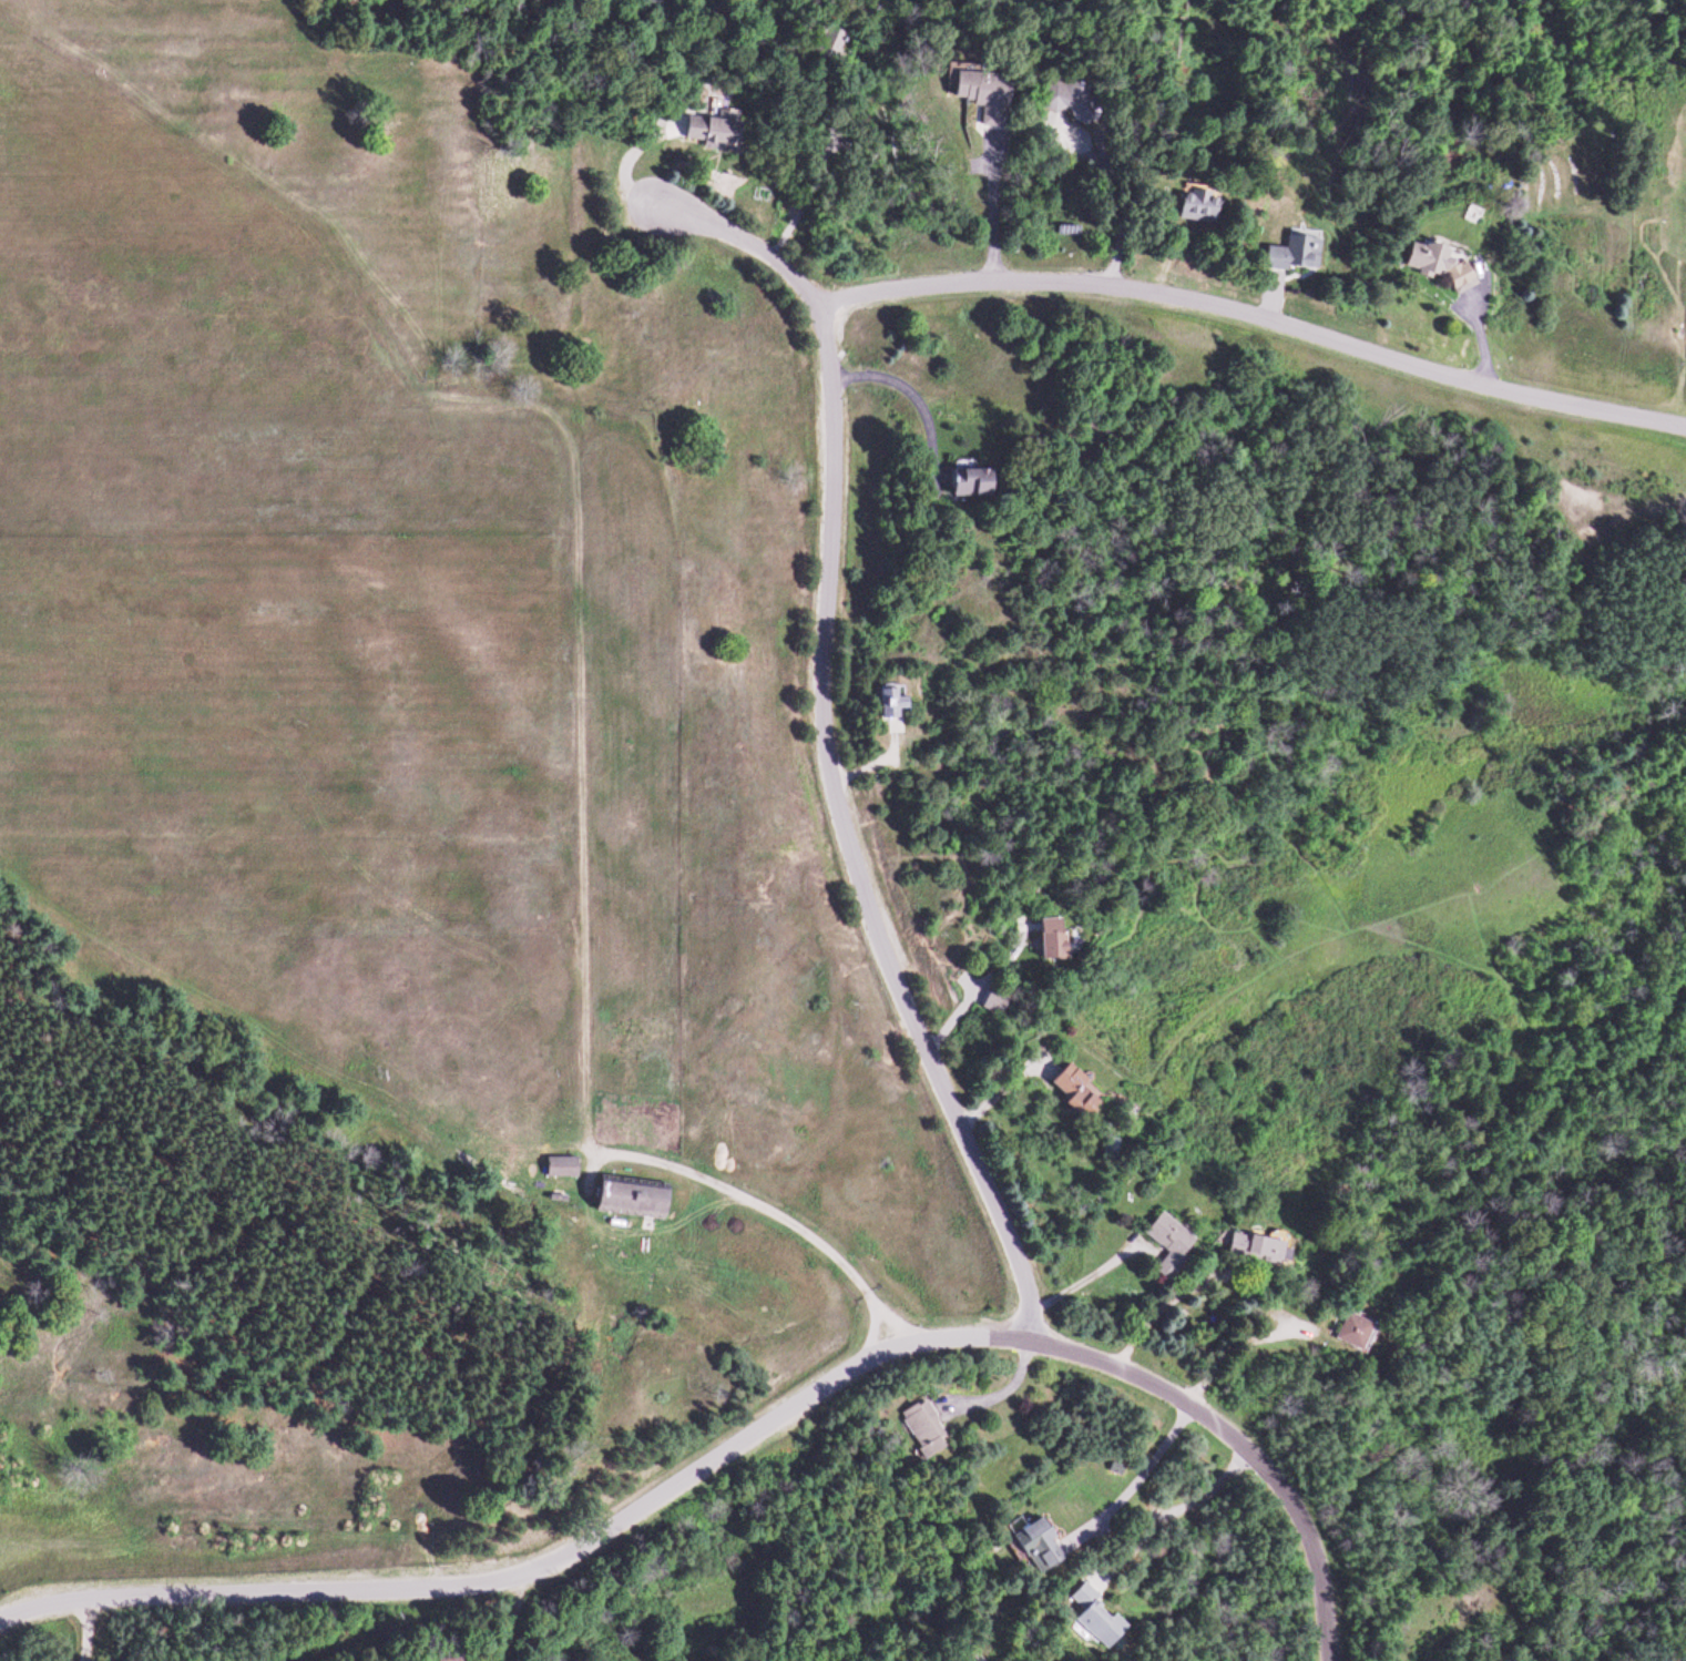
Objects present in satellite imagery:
building: (981, 94)
building: (1067, 104)
building: (712, 134)
building: (1197, 210)
building: (1295, 255)
building: (1441, 265)
road: (1259, 316)
building: (970, 483)
building: (890, 705)
road: (829, 738)
building: (1052, 941)
park: (1462, 988)
building: (993, 1003)
building: (1074, 1092)
building: (632, 1201)
building: (1169, 1247)
building: (1259, 1250)
building: (1352, 1332)
road: (749, 1428)
building: (922, 1431)
building: (1038, 1548)
building: (1095, 1618)
road: (507, 1620)

